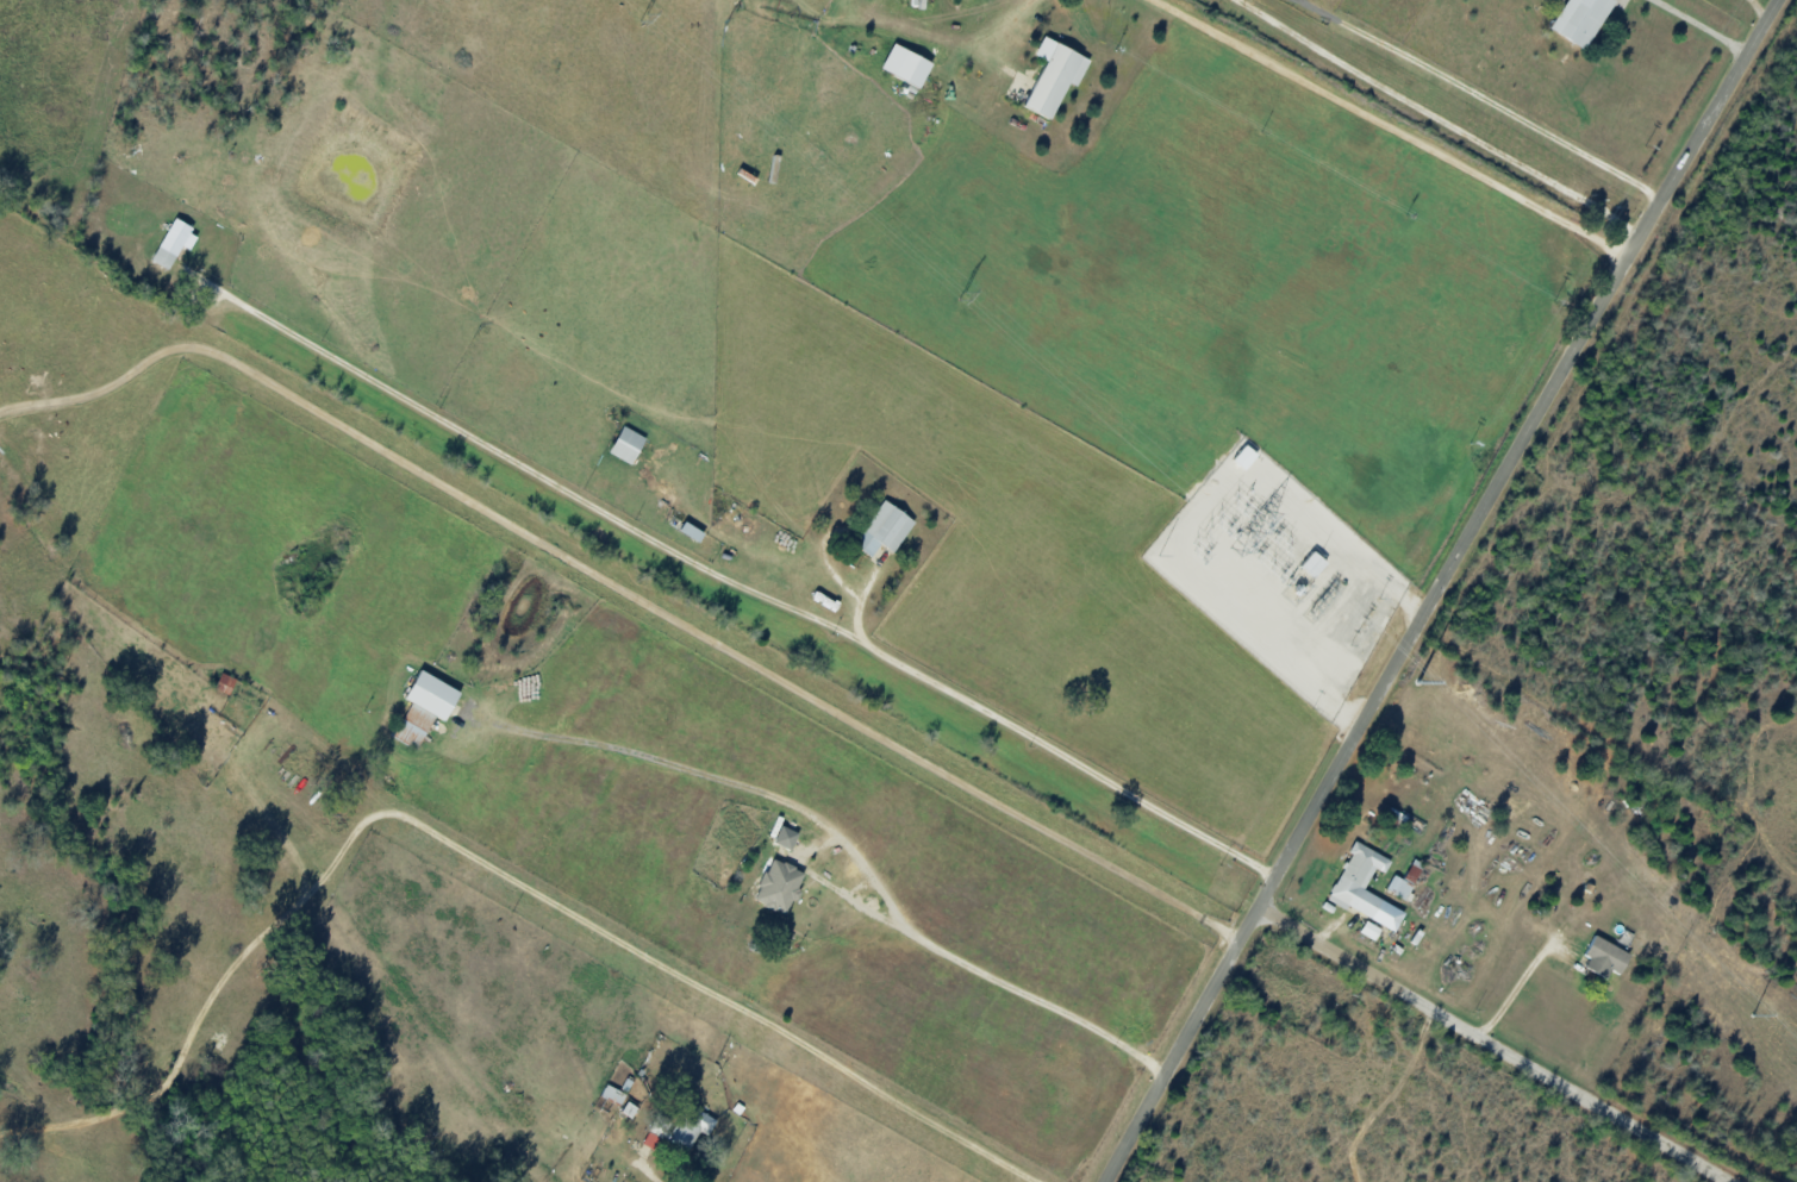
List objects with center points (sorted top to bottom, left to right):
road: (1758, 10)
power tower: (645, 17)
building: (1581, 19)
road: (1013, 25)
road: (1701, 26)
building: (906, 64)
building: (1055, 76)
road: (1483, 98)
road: (1437, 119)
road: (1391, 129)
building: (173, 243)
power tower: (962, 295)
building: (628, 445)
building: (1246, 457)
building: (885, 530)
building: (1314, 564)
power substation: (1283, 575)
road: (732, 581)
road: (1437, 588)
road: (623, 593)
building: (226, 683)
building: (425, 707)
power tower: (1512, 776)
building: (786, 837)
road: (480, 861)
building: (779, 884)
building: (1365, 887)
building: (1399, 887)
building: (1369, 931)
building: (1605, 957)
road: (1516, 990)
road: (1028, 999)
road: (1493, 1044)
building: (613, 1094)
building: (630, 1109)
building: (680, 1128)
road: (644, 1163)

